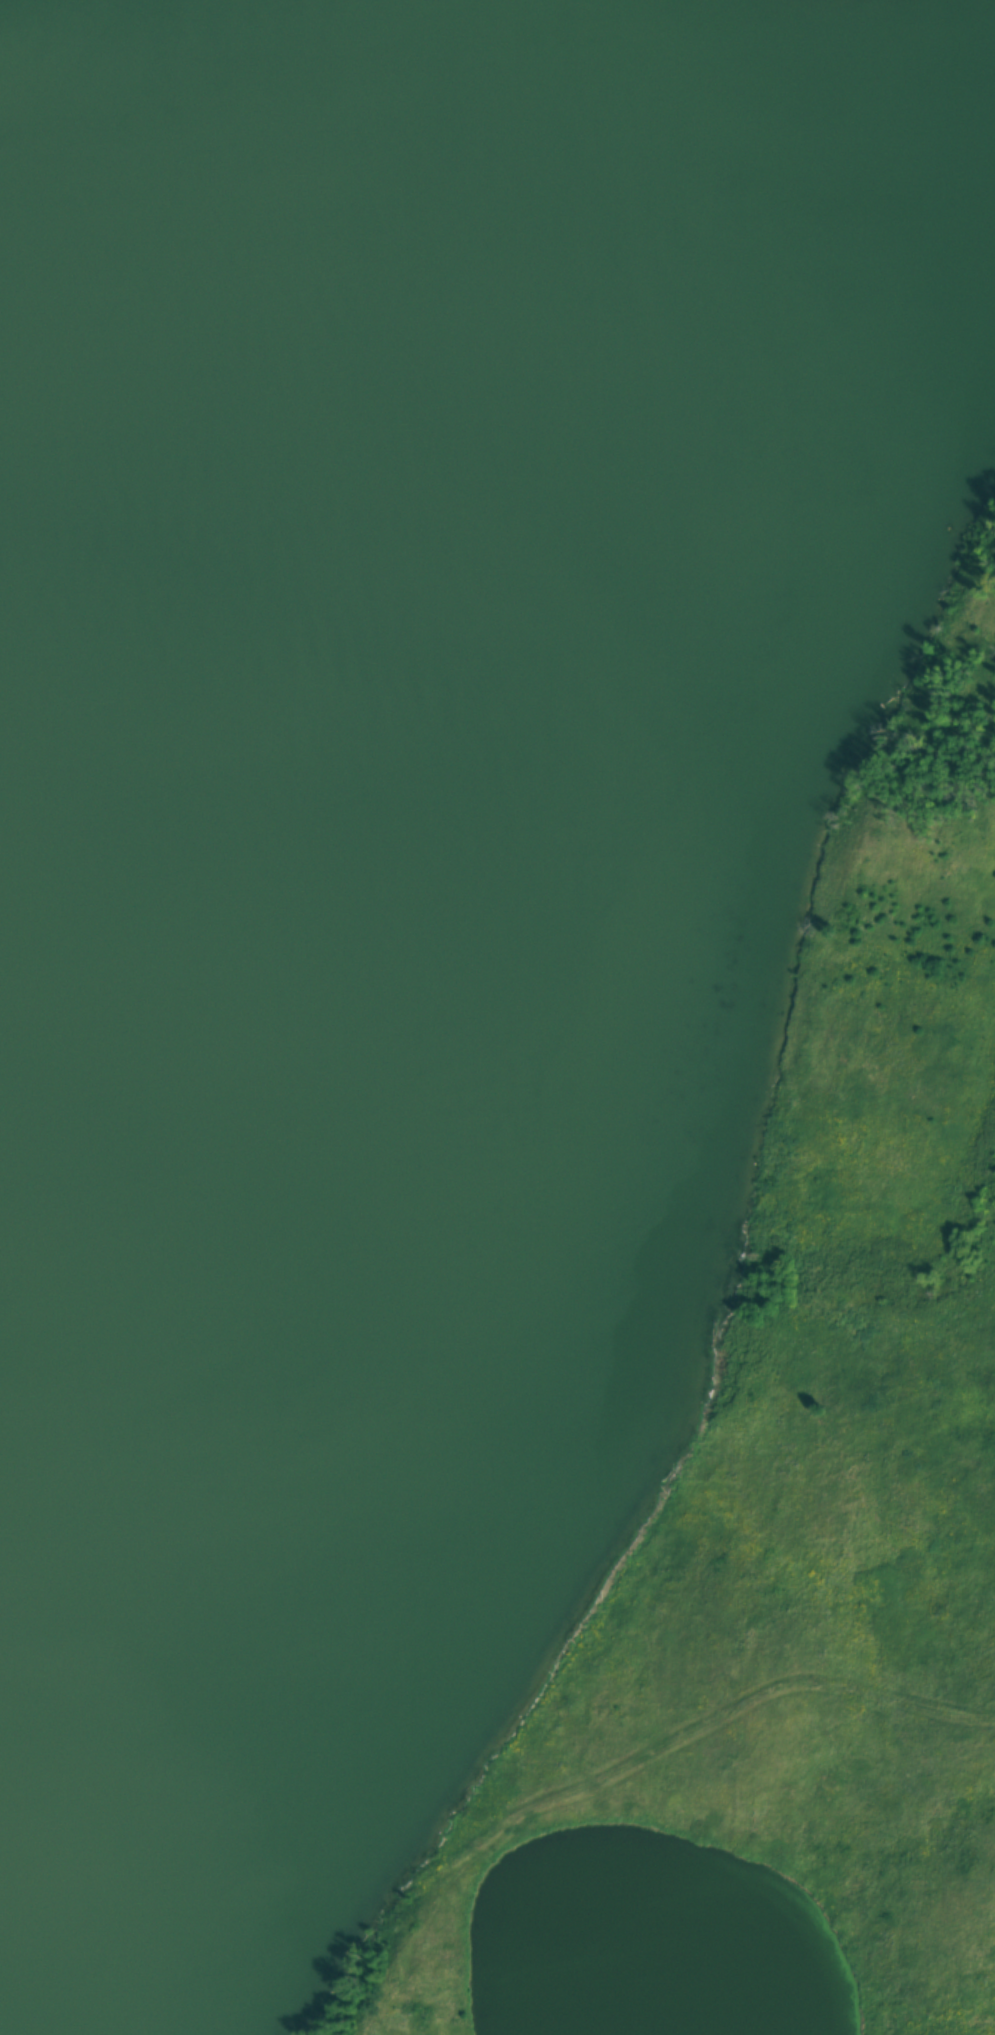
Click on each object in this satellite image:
road: (639, 1768)

